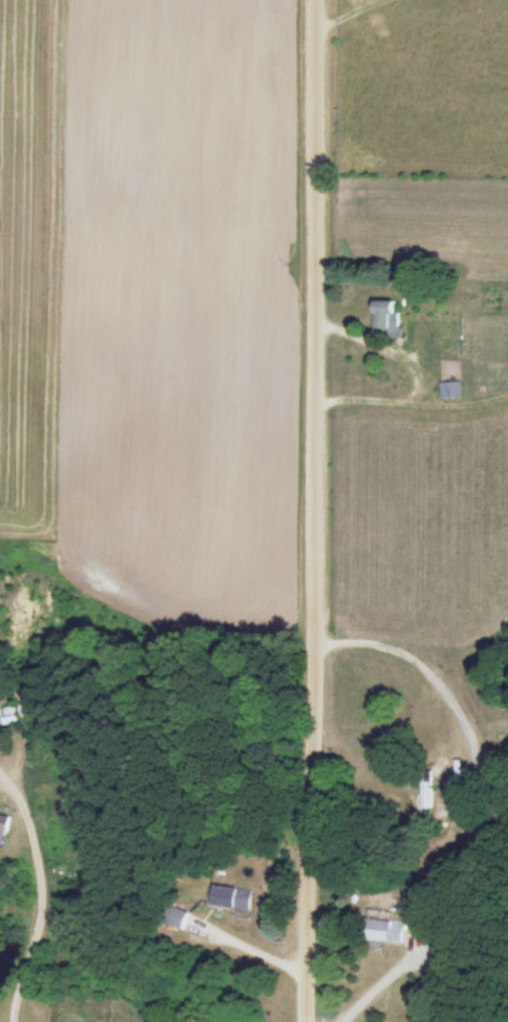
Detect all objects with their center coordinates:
building: (387, 318)
building: (450, 390)
road: (301, 511)
building: (15, 709)
building: (425, 790)
building: (3, 824)
building: (235, 897)
building: (390, 928)

